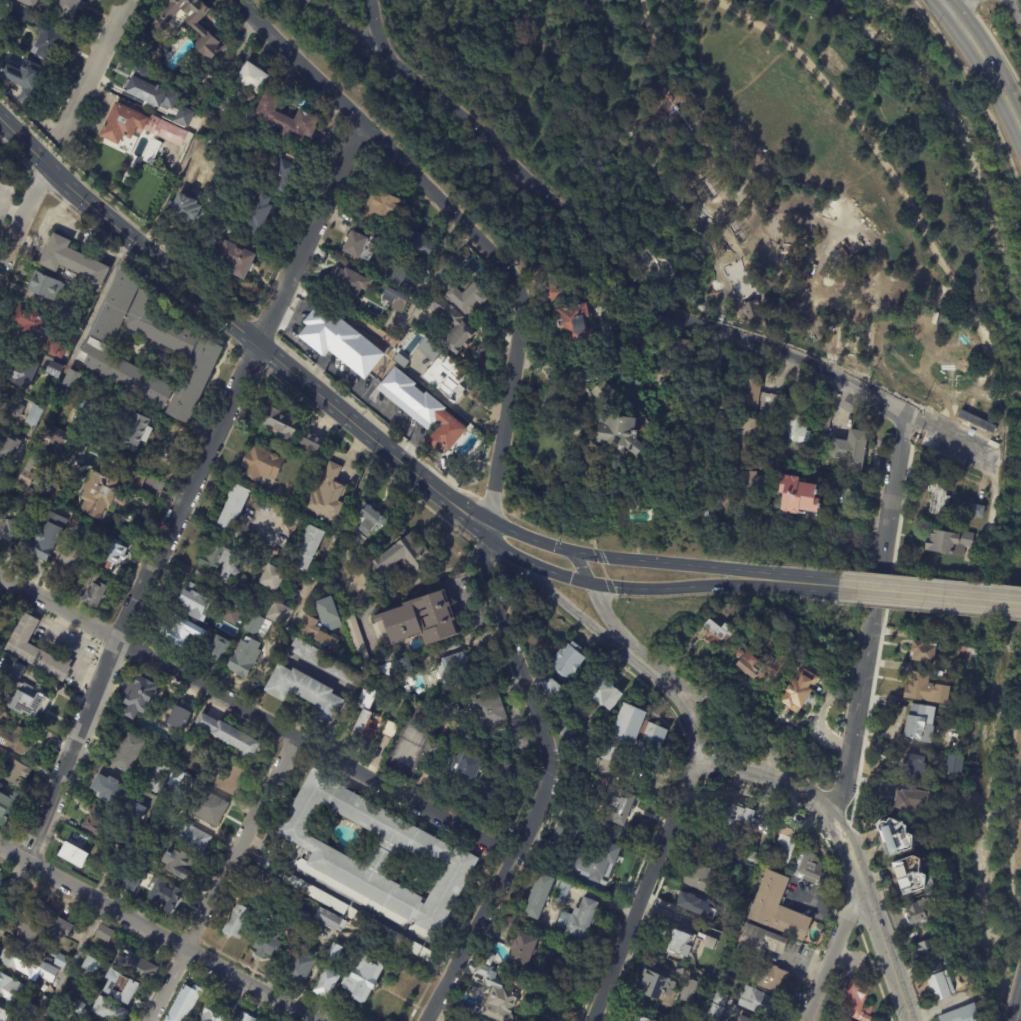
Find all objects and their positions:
building: (5, 0)
building: (2, 1)
building: (27, 3)
road: (943, 6)
road: (959, 6)
road: (1017, 6)
building: (68, 9)
building: (17, 17)
road: (344, 22)
building: (190, 25)
road: (373, 27)
building: (47, 42)
road: (994, 43)
road: (95, 61)
road: (988, 72)
building: (24, 79)
building: (210, 89)
building: (243, 91)
road: (971, 91)
building: (151, 94)
building: (184, 116)
building: (286, 121)
building: (138, 129)
road: (196, 133)
building: (228, 137)
building: (215, 139)
road: (24, 140)
road: (622, 140)
building: (151, 153)
road: (890, 173)
building: (283, 174)
park: (768, 176)
building: (381, 207)
building: (185, 212)
road: (738, 213)
road: (24, 215)
building: (255, 216)
road: (463, 230)
road: (312, 238)
building: (360, 244)
building: (421, 247)
building: (234, 262)
building: (72, 264)
building: (398, 276)
building: (349, 279)
road: (424, 279)
building: (45, 287)
building: (457, 288)
building: (552, 293)
building: (944, 293)
building: (395, 297)
road: (651, 306)
building: (751, 308)
building: (575, 324)
building: (25, 325)
building: (157, 325)
building: (450, 325)
building: (964, 339)
building: (99, 340)
building: (340, 340)
building: (57, 348)
building: (681, 348)
road: (263, 350)
road: (72, 358)
building: (438, 366)
building: (55, 367)
building: (25, 371)
building: (661, 375)
building: (75, 380)
building: (193, 383)
road: (901, 387)
road: (946, 391)
building: (604, 393)
road: (1012, 393)
building: (756, 397)
building: (12, 411)
building: (421, 411)
building: (35, 415)
building: (825, 421)
building: (281, 422)
building: (796, 429)
building: (140, 433)
building: (619, 434)
building: (59, 436)
building: (746, 440)
building: (310, 445)
building: (16, 447)
building: (851, 451)
building: (262, 465)
building: (29, 472)
building: (744, 489)
building: (102, 495)
building: (326, 496)
building: (799, 496)
building: (938, 497)
building: (234, 507)
building: (975, 510)
building: (274, 511)
building: (369, 520)
building: (7, 526)
road: (334, 538)
building: (46, 539)
road: (527, 539)
road: (492, 540)
building: (947, 541)
building: (307, 548)
building: (213, 553)
traffic signals: (571, 553)
building: (79, 555)
road: (585, 555)
building: (112, 556)
building: (401, 558)
road: (678, 566)
building: (228, 567)
road: (604, 573)
road: (553, 575)
building: (91, 577)
building: (244, 578)
building: (271, 578)
road: (797, 582)
traffic signals: (587, 584)
road: (683, 589)
road: (419, 591)
road: (726, 593)
road: (929, 595)
building: (97, 596)
building: (192, 602)
building: (327, 610)
road: (928, 610)
building: (6, 613)
building: (232, 615)
building: (280, 615)
building: (420, 620)
road: (871, 620)
road: (123, 625)
building: (257, 626)
building: (309, 627)
building: (177, 632)
building: (718, 633)
building: (1, 635)
building: (355, 638)
building: (219, 647)
building: (968, 649)
building: (40, 651)
building: (754, 651)
building: (923, 651)
building: (739, 653)
building: (388, 657)
building: (244, 658)
building: (567, 661)
building: (325, 662)
building: (453, 666)
building: (776, 666)
building: (394, 667)
building: (751, 667)
building: (792, 667)
road: (646, 674)
road: (672, 674)
building: (551, 689)
building: (925, 689)
building: (799, 691)
building: (304, 692)
building: (603, 693)
building: (137, 696)
building: (25, 699)
building: (447, 711)
building: (489, 711)
road: (257, 716)
building: (367, 716)
building: (177, 718)
building: (920, 722)
building: (628, 724)
building: (389, 729)
building: (567, 734)
building: (229, 735)
building: (18, 739)
building: (653, 739)
building: (189, 748)
building: (431, 749)
building: (950, 749)
building: (607, 751)
building: (126, 753)
building: (2, 754)
building: (954, 765)
building: (914, 767)
building: (463, 769)
building: (18, 773)
building: (155, 778)
building: (228, 778)
building: (176, 780)
road: (544, 783)
building: (1, 786)
building: (108, 791)
building: (139, 792)
road: (1010, 797)
road: (812, 801)
building: (911, 802)
building: (7, 807)
building: (617, 807)
building: (209, 808)
building: (132, 811)
building: (734, 818)
building: (94, 825)
building: (566, 835)
building: (192, 838)
building: (896, 838)
building: (784, 844)
building: (715, 848)
building: (72, 855)
building: (139, 856)
building: (375, 857)
building: (753, 858)
building: (116, 860)
building: (599, 862)
building: (178, 864)
building: (807, 868)
building: (250, 873)
building: (912, 875)
building: (699, 877)
road: (220, 878)
building: (132, 883)
road: (646, 887)
building: (561, 893)
building: (313, 894)
building: (166, 897)
building: (537, 898)
building: (689, 901)
building: (37, 908)
building: (777, 908)
building: (921, 914)
building: (300, 918)
building: (329, 920)
building: (578, 920)
building: (236, 922)
road: (874, 923)
building: (511, 924)
building: (66, 927)
building: (311, 927)
building: (376, 927)
building: (32, 931)
building: (106, 934)
road: (154, 935)
building: (678, 940)
building: (707, 940)
building: (760, 940)
building: (269, 947)
building: (412, 948)
building: (521, 951)
road: (832, 951)
building: (331, 952)
building: (425, 955)
building: (931, 957)
building: (488, 959)
building: (63, 961)
road: (70, 963)
building: (736, 963)
building: (29, 964)
building: (94, 964)
building: (139, 967)
building: (298, 968)
building: (770, 977)
building: (362, 979)
road: (1011, 981)
building: (656, 983)
building: (325, 985)
building: (125, 986)
building: (10, 987)
building: (940, 987)
building: (688, 991)
building: (496, 996)
building: (720, 999)
building: (857, 1000)
building: (186, 1002)
building: (757, 1002)
road: (1017, 1007)
building: (31, 1010)
building: (111, 1010)
building: (1, 1011)
building: (714, 1011)
building: (82, 1012)
road: (271, 1012)
building: (217, 1013)
building: (963, 1015)
building: (248, 1017)
building: (638, 1018)
building: (741, 1019)
building: (833, 1020)
building: (839, 1020)

